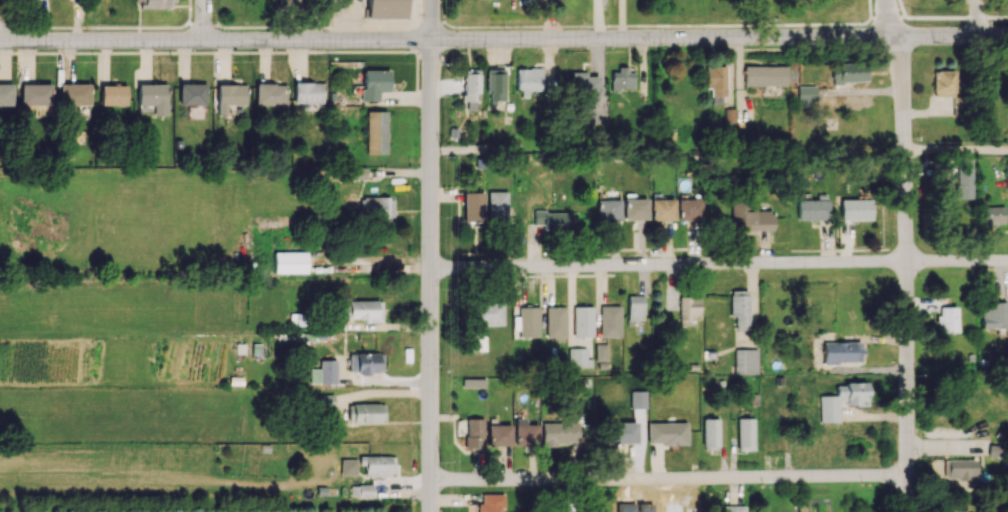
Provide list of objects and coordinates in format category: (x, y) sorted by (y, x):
building: (155, 3)
building: (290, 3)
building: (387, 9)
road: (869, 9)
park: (764, 12)
road: (888, 18)
road: (977, 18)
road: (431, 20)
road: (203, 21)
road: (650, 26)
road: (869, 28)
road: (951, 37)
road: (663, 38)
road: (215, 42)
building: (850, 73)
building: (765, 75)
building: (622, 79)
building: (528, 80)
building: (716, 80)
building: (944, 83)
building: (374, 84)
building: (495, 84)
building: (584, 87)
building: (471, 88)
building: (308, 92)
building: (6, 94)
building: (74, 94)
building: (113, 94)
building: (193, 94)
building: (271, 94)
building: (806, 94)
building: (154, 96)
building: (231, 96)
building: (37, 97)
building: (376, 132)
road: (957, 149)
building: (354, 173)
building: (1007, 174)
building: (964, 178)
building: (497, 204)
building: (473, 206)
building: (377, 207)
building: (635, 209)
building: (662, 209)
building: (690, 209)
building: (814, 209)
building: (856, 209)
building: (608, 210)
building: (992, 215)
building: (750, 216)
building: (554, 221)
building: (290, 262)
road: (718, 263)
road: (908, 274)
road: (430, 275)
building: (635, 307)
building: (740, 308)
building: (688, 309)
building: (362, 310)
building: (488, 313)
building: (993, 315)
building: (948, 319)
building: (529, 321)
building: (583, 321)
building: (610, 321)
building: (555, 322)
building: (476, 341)
building: (601, 352)
building: (842, 352)
building: (578, 357)
building: (745, 361)
building: (366, 362)
building: (324, 372)
building: (473, 382)
building: (638, 399)
building: (841, 400)
building: (325, 402)
building: (621, 432)
building: (525, 433)
building: (667, 433)
building: (474, 434)
building: (711, 434)
building: (745, 434)
building: (499, 435)
building: (378, 465)
building: (349, 466)
building: (962, 468)
road: (670, 478)
building: (361, 490)
building: (490, 503)
building: (733, 508)

